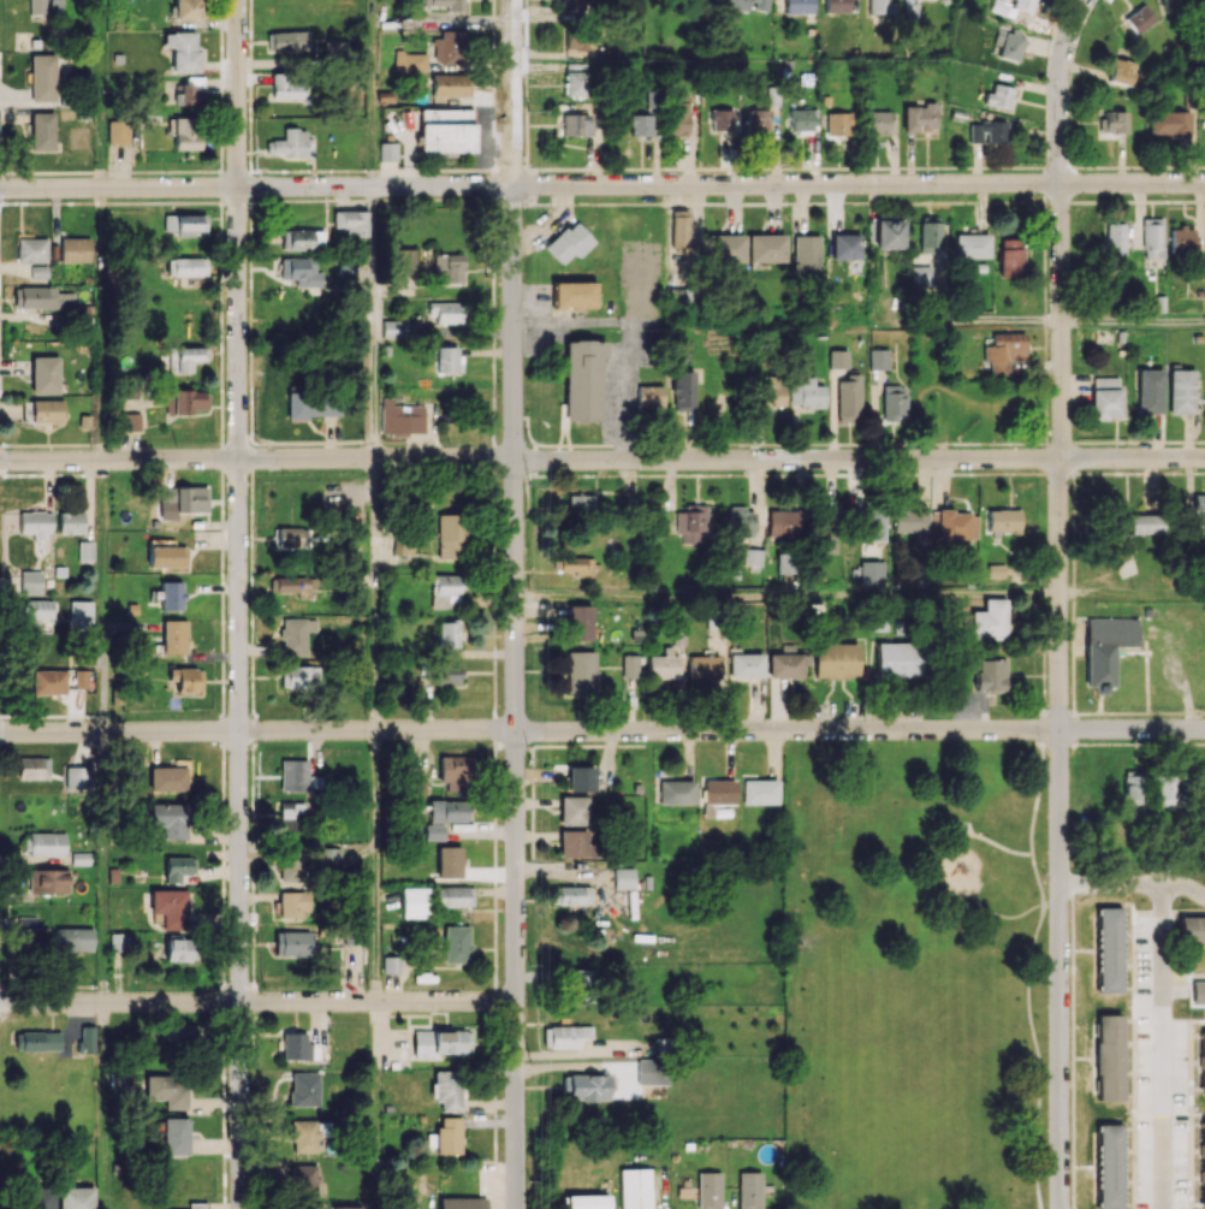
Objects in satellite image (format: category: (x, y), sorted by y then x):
building: (1171, 2)
building: (37, 4)
building: (443, 4)
building: (576, 5)
building: (743, 5)
building: (1023, 5)
building: (799, 6)
building: (835, 6)
building: (879, 6)
building: (186, 8)
building: (1139, 19)
building: (287, 41)
building: (576, 43)
building: (1009, 43)
building: (450, 47)
building: (182, 51)
building: (1121, 71)
building: (43, 77)
building: (575, 78)
building: (450, 84)
building: (289, 85)
road: (1061, 89)
building: (190, 91)
road: (372, 93)
building: (999, 96)
building: (677, 114)
building: (920, 117)
building: (723, 119)
building: (758, 119)
building: (802, 119)
building: (877, 122)
building: (1111, 122)
building: (838, 123)
building: (1169, 123)
building: (575, 124)
building: (640, 124)
building: (445, 130)
building: (42, 131)
building: (117, 131)
building: (185, 132)
building: (987, 132)
building: (287, 143)
building: (387, 152)
road: (857, 183)
road: (255, 185)
building: (350, 221)
building: (184, 224)
building: (888, 233)
building: (928, 236)
building: (1152, 237)
building: (301, 238)
building: (1182, 239)
building: (679, 241)
building: (1115, 241)
building: (569, 242)
building: (972, 245)
building: (845, 247)
building: (725, 248)
building: (765, 248)
building: (31, 249)
building: (75, 249)
building: (806, 254)
building: (1010, 256)
building: (402, 259)
building: (185, 266)
building: (447, 267)
building: (38, 272)
building: (301, 272)
building: (920, 275)
building: (574, 295)
building: (36, 297)
building: (446, 312)
road: (1133, 320)
road: (372, 321)
road: (968, 321)
road: (101, 324)
building: (393, 328)
road: (631, 332)
building: (1004, 354)
building: (184, 357)
building: (447, 358)
building: (837, 358)
building: (878, 358)
building: (44, 374)
building: (582, 379)
building: (683, 389)
building: (770, 390)
building: (1150, 391)
building: (1181, 391)
building: (805, 392)
building: (648, 396)
building: (849, 396)
building: (1105, 397)
building: (185, 402)
building: (894, 402)
building: (311, 405)
building: (47, 410)
building: (399, 417)
building: (129, 421)
road: (257, 457)
road: (859, 458)
building: (183, 498)
building: (580, 504)
building: (1198, 516)
building: (741, 520)
building: (1003, 520)
building: (71, 521)
building: (910, 521)
building: (778, 522)
building: (36, 523)
building: (690, 523)
building: (1135, 523)
building: (871, 525)
building: (957, 526)
building: (826, 529)
building: (292, 537)
building: (447, 537)
building: (85, 551)
building: (166, 556)
building: (753, 557)
building: (872, 573)
building: (30, 582)
building: (292, 585)
building: (444, 591)
road: (374, 593)
building: (171, 594)
road: (786, 594)
road: (1132, 594)
road: (238, 604)
road: (515, 604)
building: (38, 614)
building: (79, 615)
building: (990, 620)
building: (578, 622)
building: (447, 634)
building: (296, 635)
building: (174, 636)
building: (1106, 647)
building: (837, 660)
building: (898, 660)
building: (786, 663)
building: (629, 665)
building: (664, 665)
building: (746, 665)
building: (704, 666)
building: (580, 671)
building: (445, 675)
building: (990, 675)
building: (81, 678)
building: (186, 678)
building: (301, 678)
building: (48, 681)
road: (1059, 695)
road: (257, 729)
road: (859, 729)
building: (34, 768)
building: (456, 769)
building: (293, 775)
building: (78, 777)
building: (167, 778)
building: (580, 778)
building: (1133, 787)
building: (1165, 789)
building: (677, 792)
building: (760, 792)
road: (1038, 792)
building: (572, 810)
building: (447, 811)
building: (290, 817)
building: (170, 818)
building: (433, 831)
building: (47, 843)
building: (575, 843)
road: (998, 848)
building: (330, 859)
building: (449, 861)
building: (291, 864)
road: (375, 865)
road: (103, 866)
building: (178, 867)
building: (624, 878)
road: (1035, 878)
building: (52, 881)
road: (1133, 882)
building: (570, 895)
building: (452, 896)
building: (414, 902)
building: (295, 903)
building: (168, 907)
road: (996, 914)
building: (1192, 929)
building: (30, 935)
building: (73, 938)
building: (118, 942)
building: (292, 943)
building: (456, 943)
building: (179, 947)
building: (1109, 949)
building: (391, 964)
park: (915, 968)
building: (578, 985)
road: (256, 1001)
building: (184, 1032)
building: (565, 1036)
building: (87, 1039)
building: (37, 1041)
building: (440, 1042)
road: (1159, 1045)
building: (298, 1047)
road: (1037, 1055)
building: (1109, 1057)
building: (1203, 1062)
building: (652, 1071)
building: (120, 1083)
building: (588, 1086)
building: (304, 1089)
building: (447, 1089)
building: (168, 1090)
building: (449, 1134)
building: (174, 1136)
building: (303, 1136)
building: (1203, 1162)
building: (1109, 1166)
building: (304, 1180)
building: (634, 1189)
building: (708, 1190)
building: (749, 1190)
building: (38, 1197)
building: (76, 1197)
building: (587, 1202)
building: (462, 1203)
building: (196, 1205)
building: (343, 1207)

